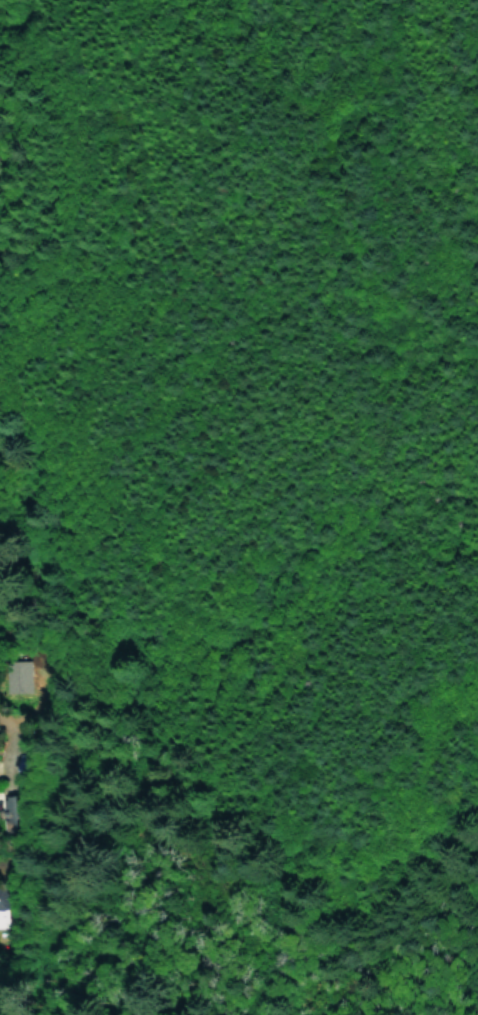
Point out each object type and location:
road: (315, 112)
road: (323, 253)

